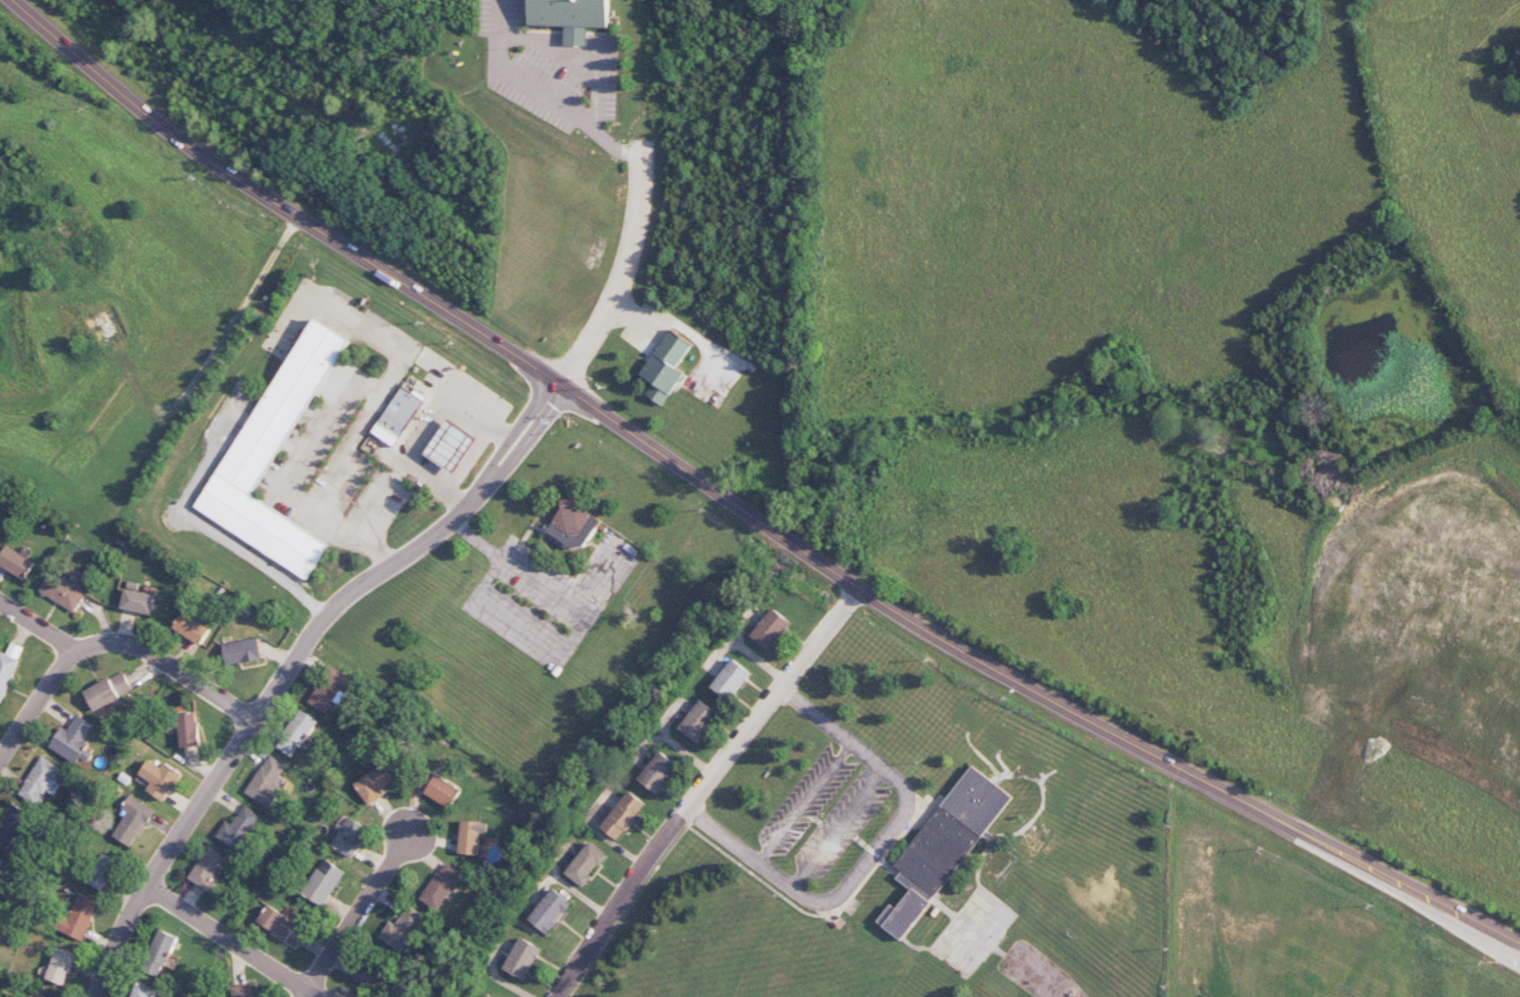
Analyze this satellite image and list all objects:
building: (570, 17)
road: (574, 57)
road: (546, 96)
road: (618, 283)
building: (665, 367)
road: (374, 400)
building: (398, 415)
building: (450, 446)
road: (411, 450)
building: (274, 455)
road: (741, 513)
building: (573, 525)
road: (206, 528)
building: (16, 562)
building: (65, 590)
building: (138, 601)
road: (34, 628)
building: (191, 628)
building: (771, 629)
road: (109, 644)
building: (241, 651)
road: (291, 664)
building: (6, 673)
building: (731, 680)
building: (330, 689)
building: (108, 691)
building: (699, 721)
building: (188, 729)
building: (298, 734)
building: (73, 741)
building: (658, 772)
building: (159, 779)
building: (41, 780)
building: (268, 780)
building: (373, 784)
building: (440, 790)
road: (701, 790)
road: (804, 802)
building: (623, 816)
building: (132, 821)
building: (12, 825)
building: (238, 828)
road: (837, 828)
building: (471, 836)
building: (349, 837)
building: (943, 847)
road: (873, 853)
building: (0, 860)
building: (586, 864)
building: (208, 869)
building: (103, 872)
building: (323, 882)
building: (441, 885)
building: (550, 911)
building: (79, 916)
road: (360, 917)
building: (277, 922)
building: (402, 929)
road: (234, 942)
building: (158, 953)
building: (523, 958)
building: (60, 966)
building: (371, 977)
building: (143, 991)
building: (241, 991)
building: (39, 995)
road: (311, 995)
building: (486, 996)

